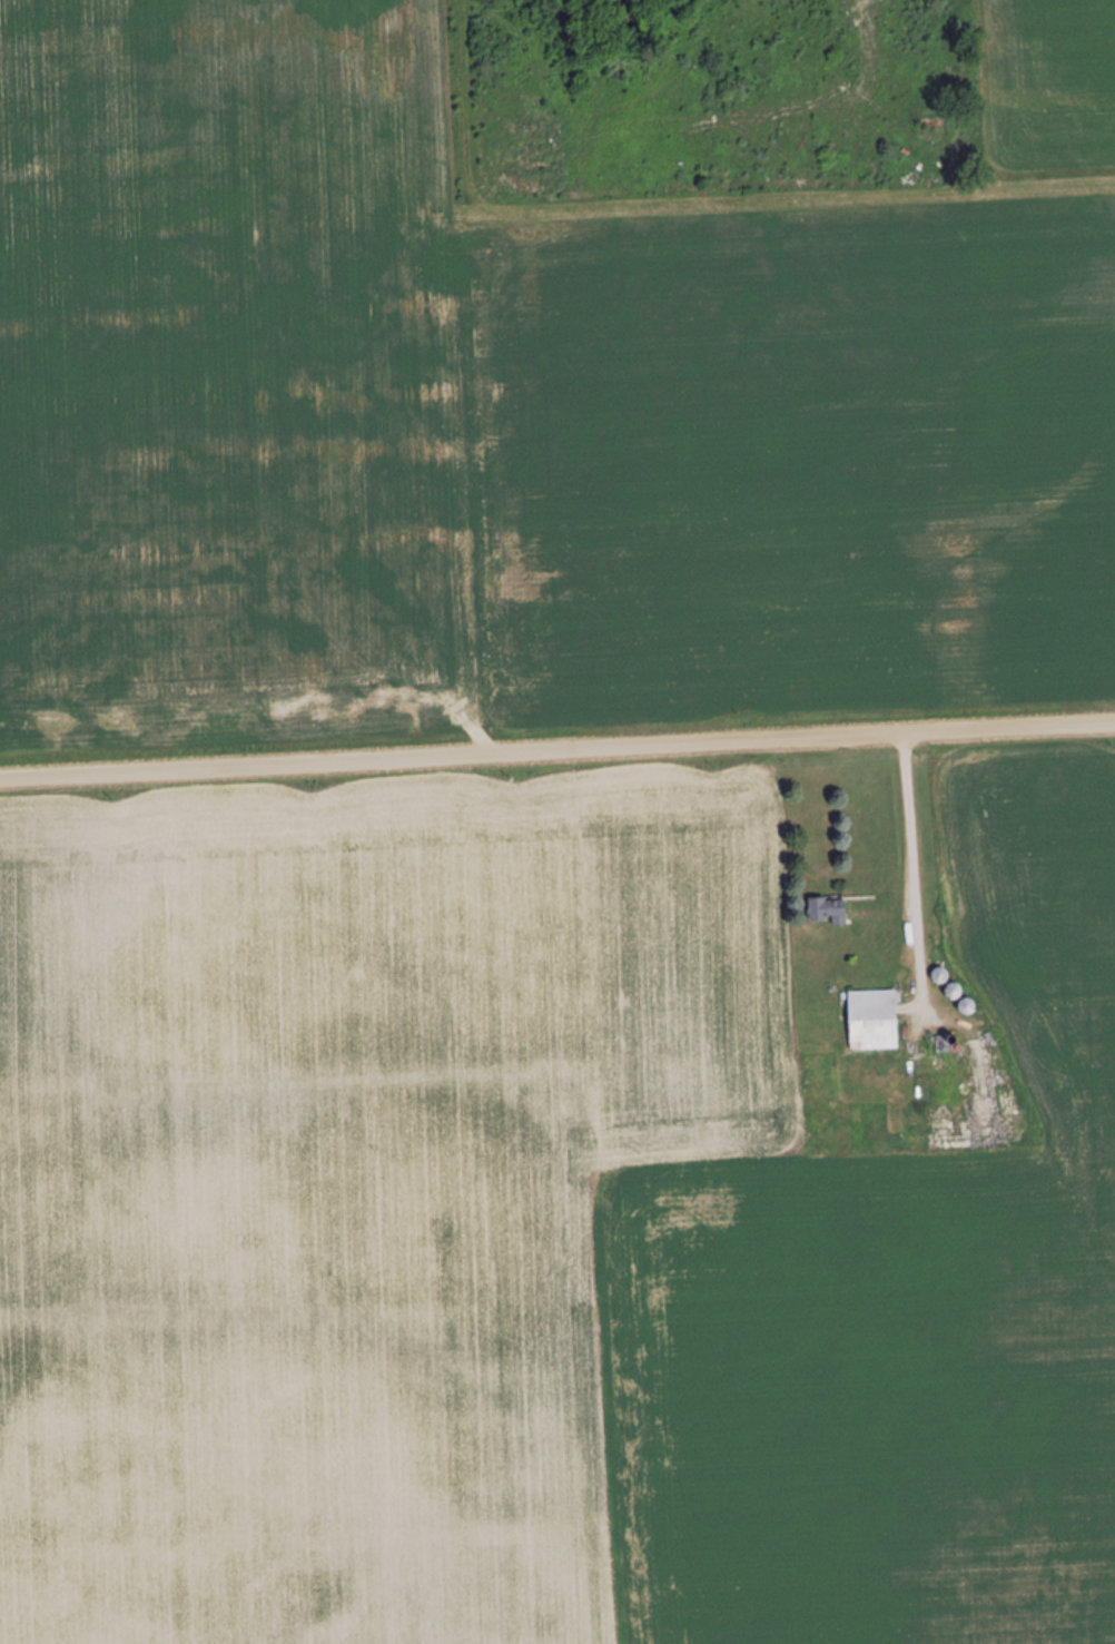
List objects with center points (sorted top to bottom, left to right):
crop: (262, 377)
road: (557, 754)
building: (828, 910)
building: (872, 1020)
crop: (312, 1228)
crop: (920, 1299)

